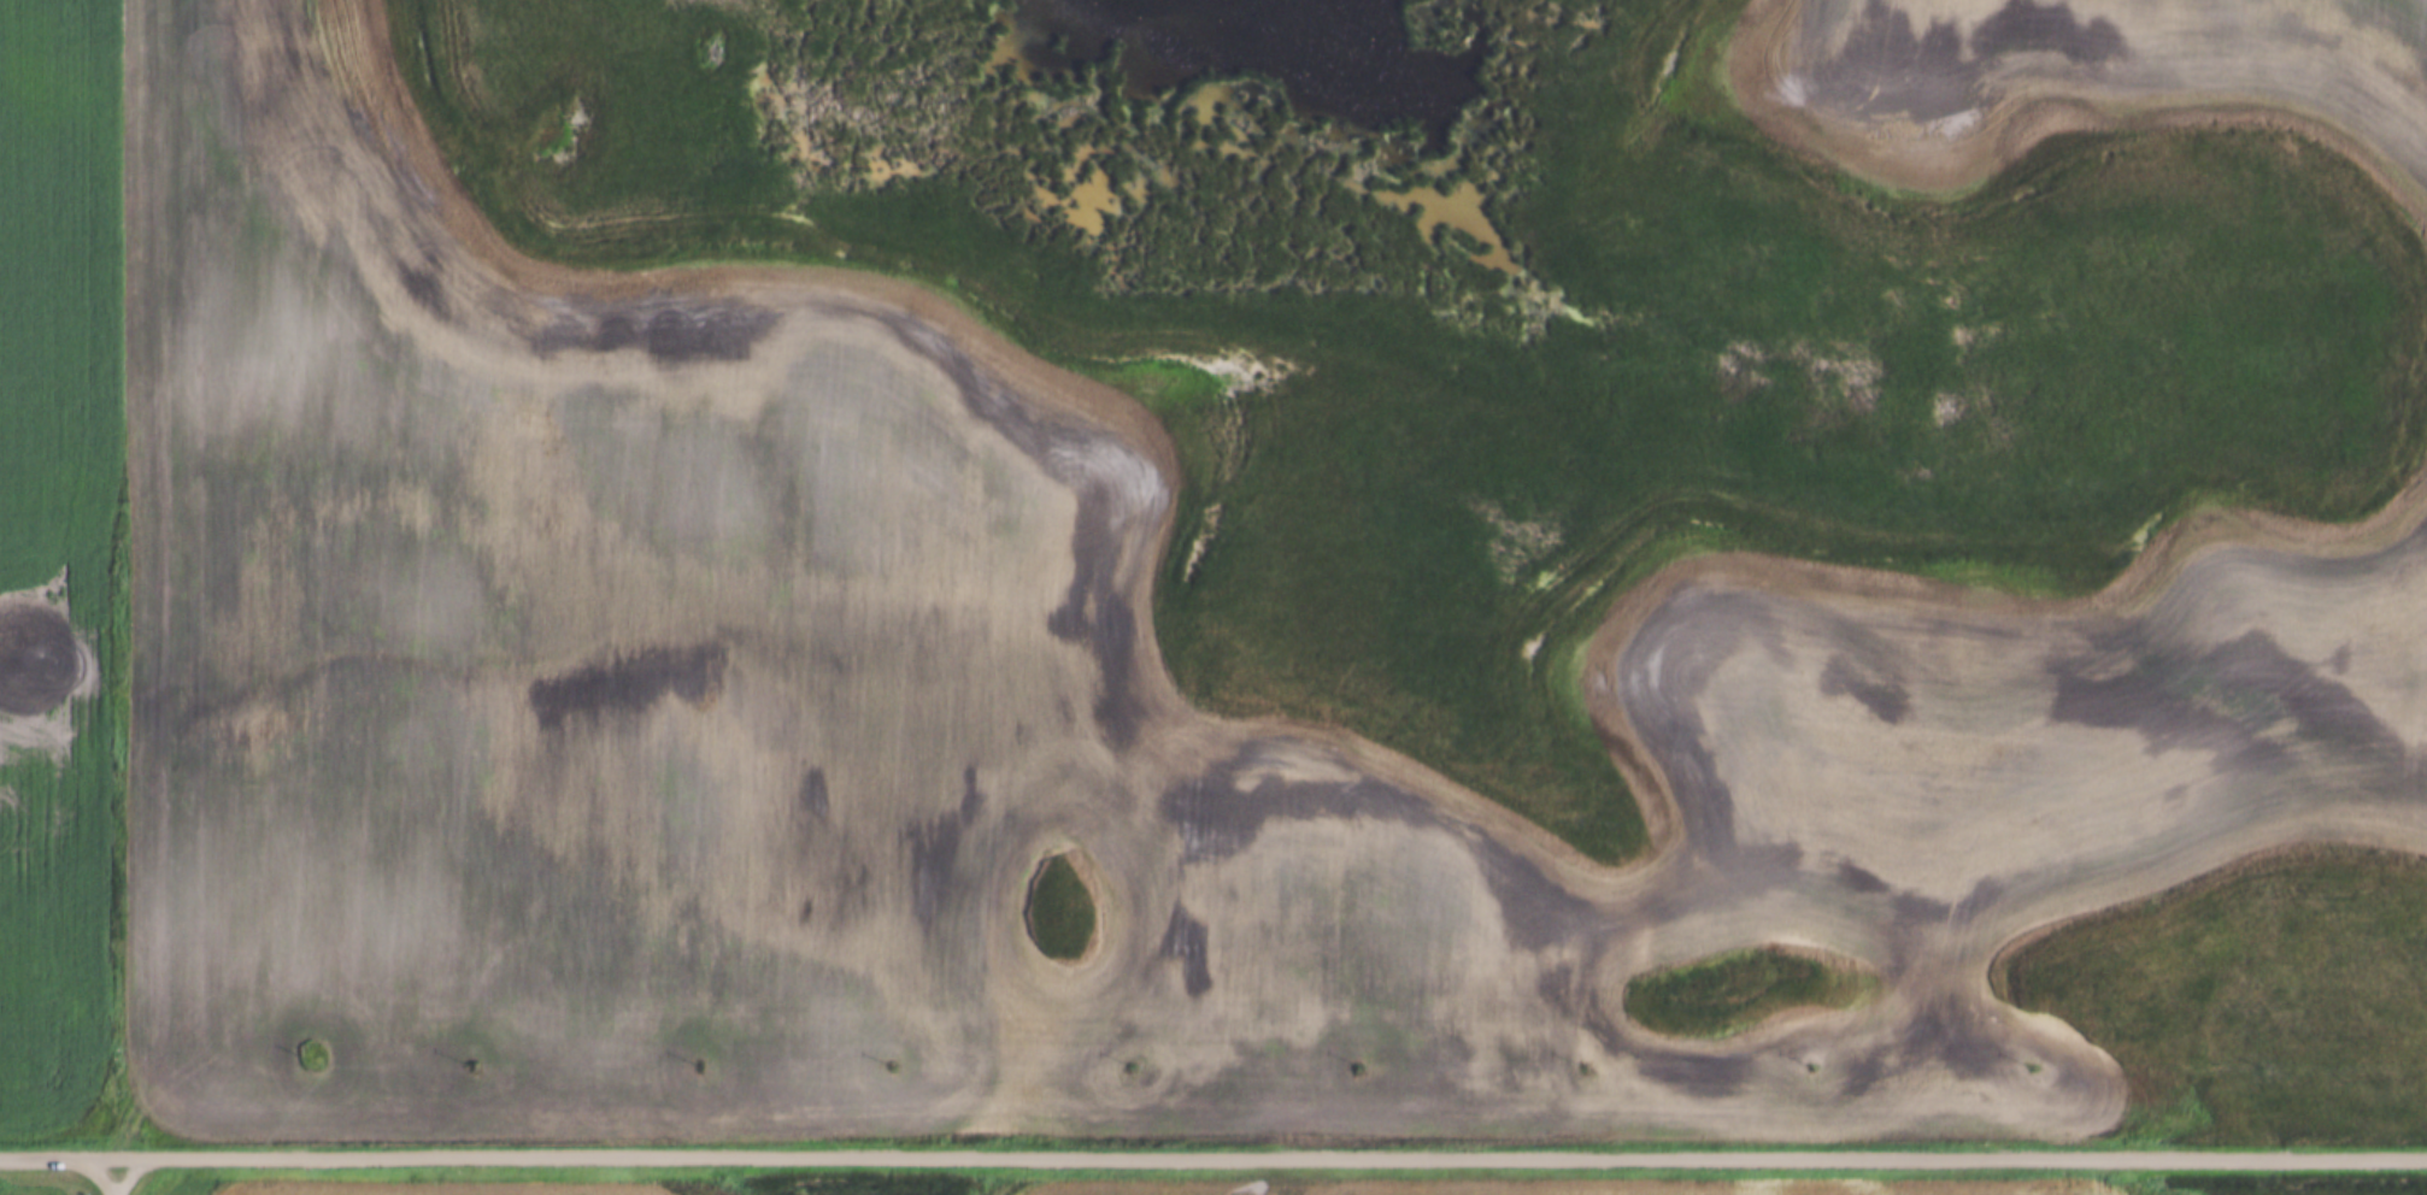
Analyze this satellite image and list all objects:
road: (124, 577)
road: (1212, 1152)
road: (118, 1175)

